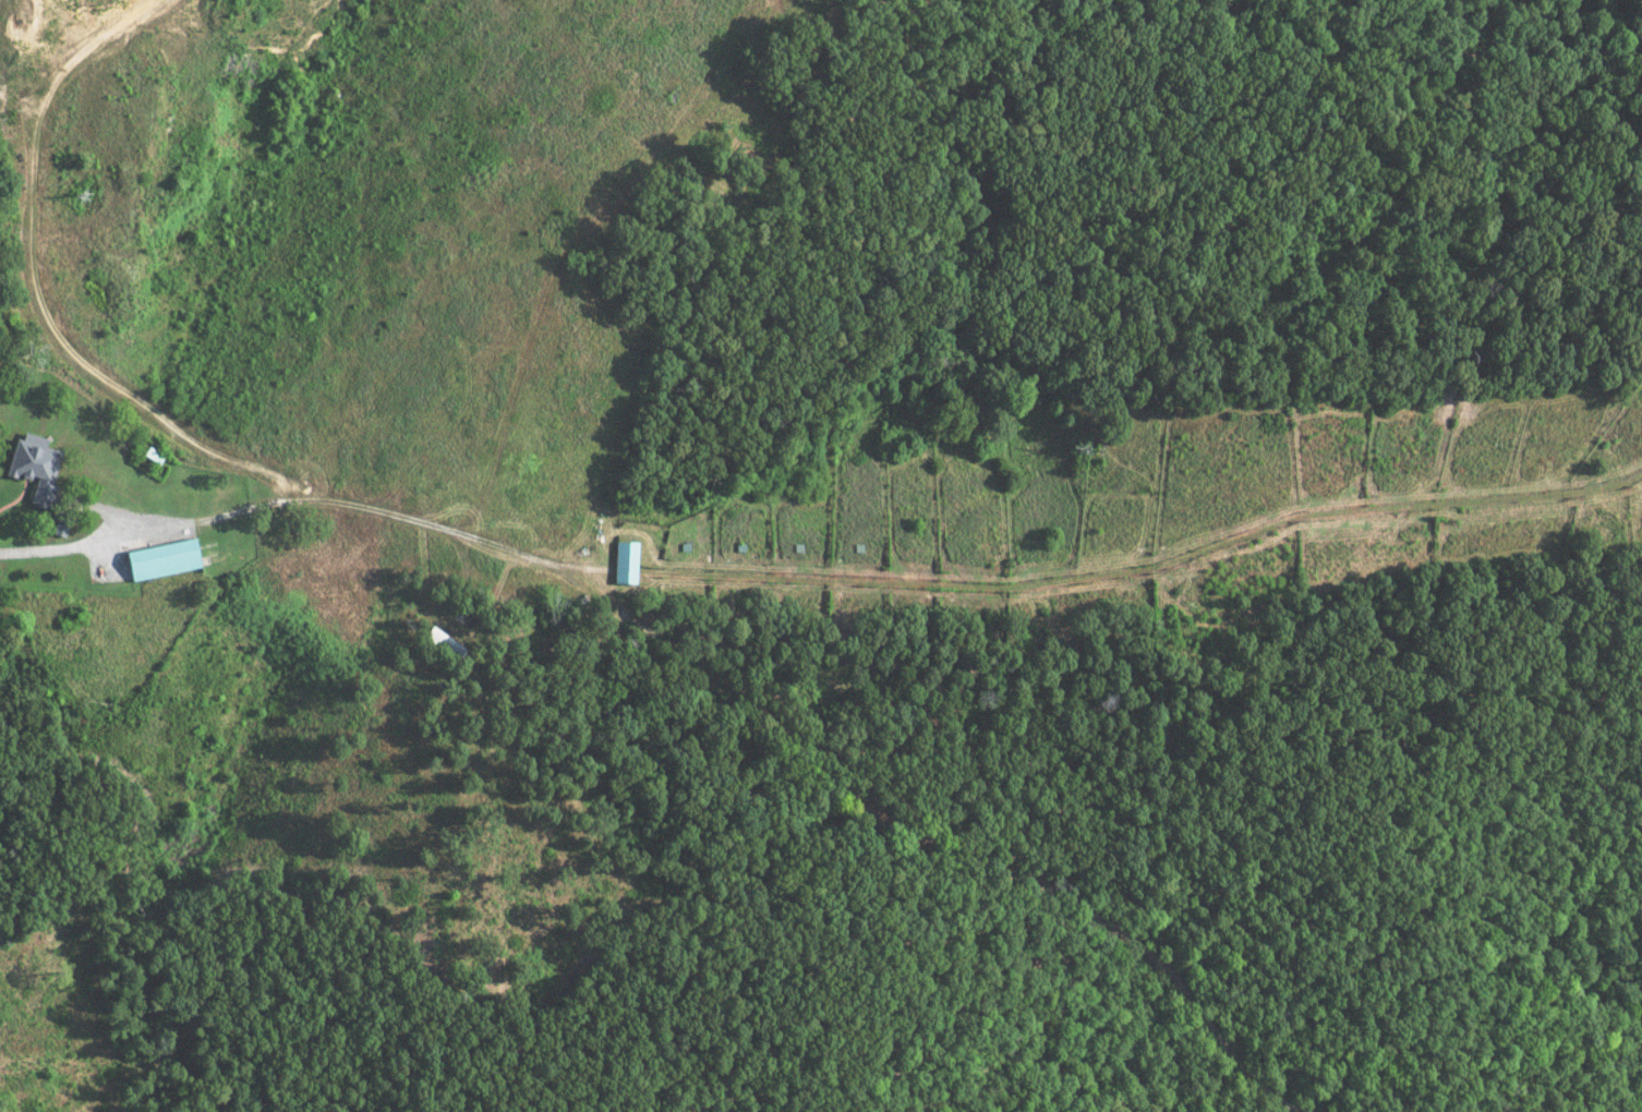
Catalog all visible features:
quarry: (50, 57)
road: (35, 293)
building: (29, 458)
road: (107, 512)
road: (398, 518)
building: (59, 524)
road: (96, 543)
building: (159, 558)
building: (621, 561)

